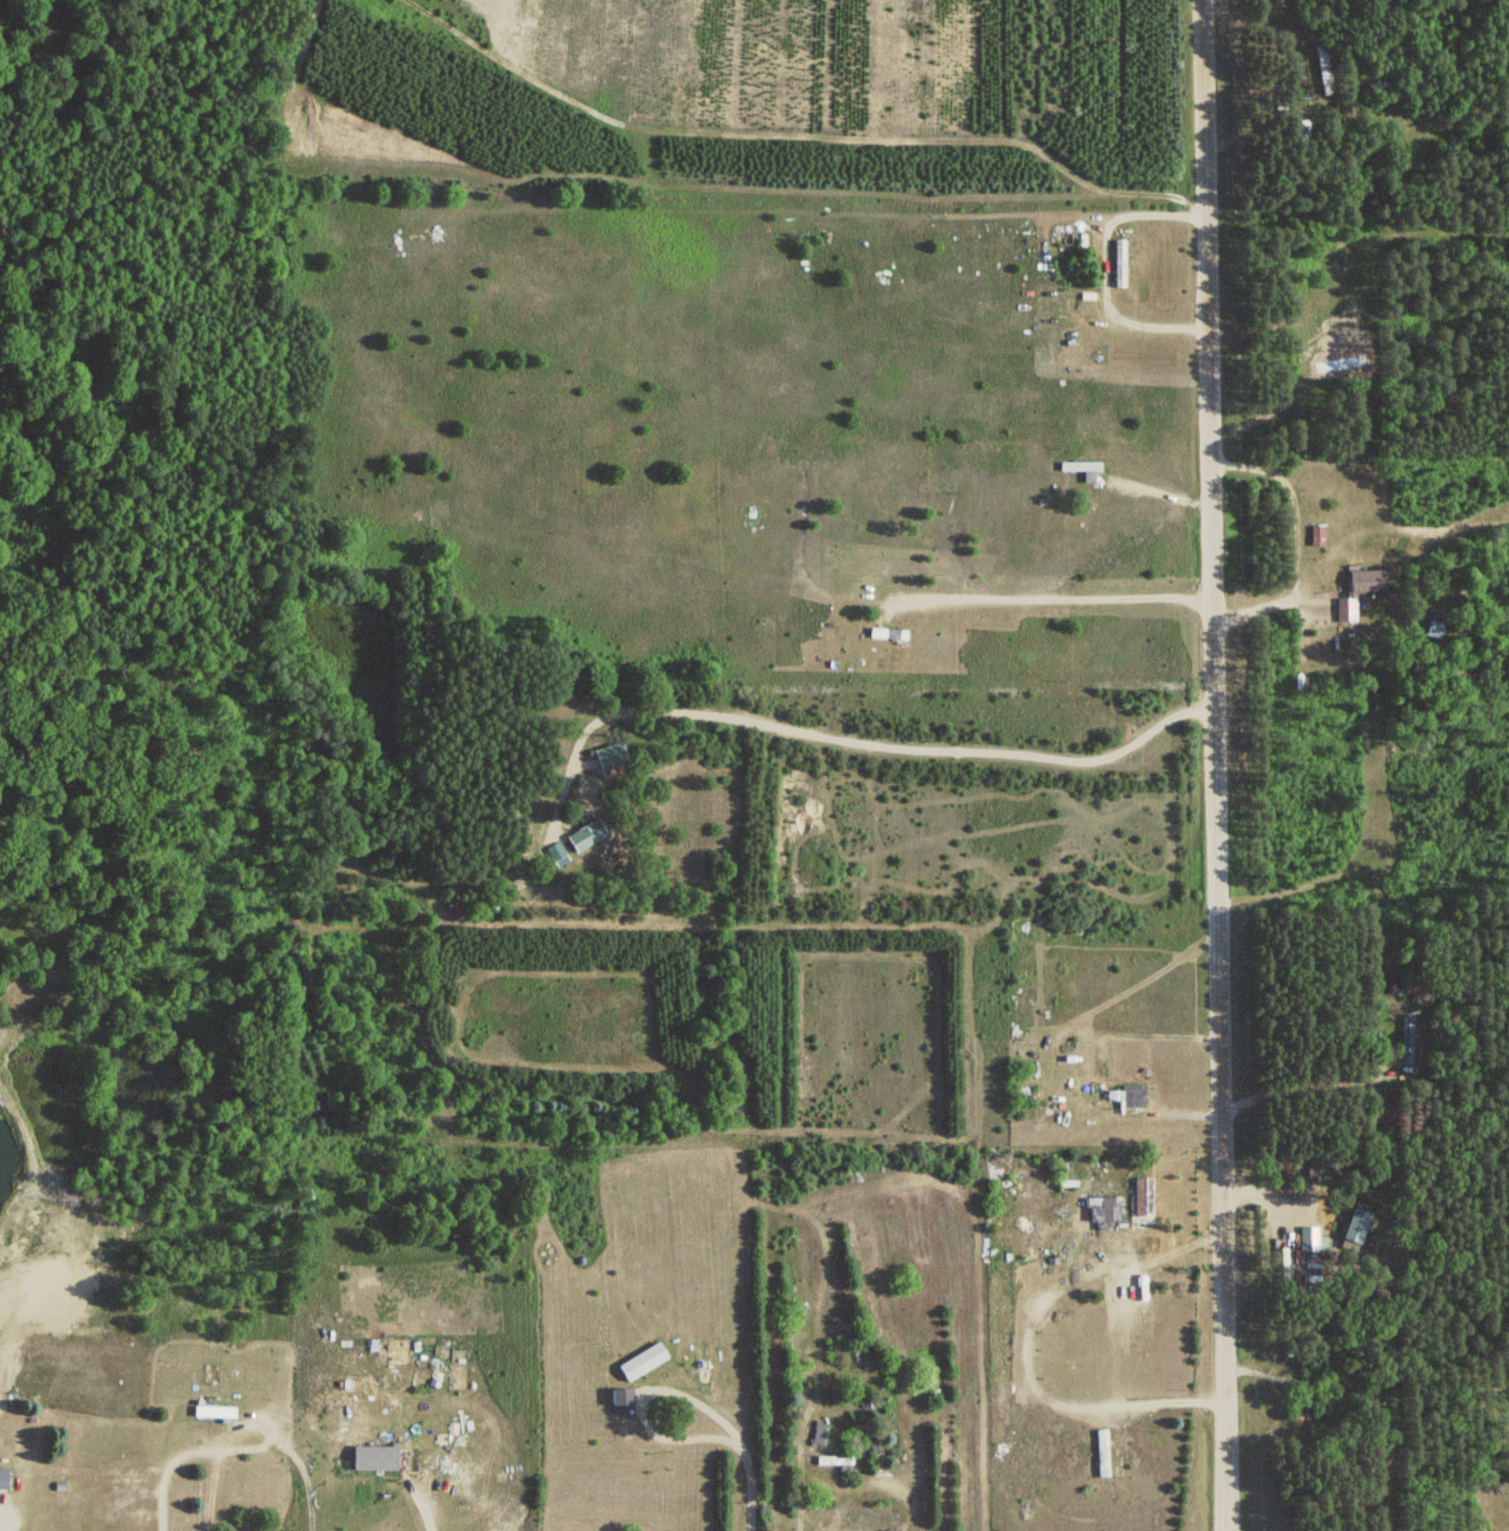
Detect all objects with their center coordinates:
building: (1298, 131)
building: (1118, 264)
building: (1081, 471)
building: (750, 512)
building: (1315, 535)
road: (1296, 544)
building: (1357, 591)
road: (1057, 596)
building: (885, 634)
road: (853, 741)
building: (608, 755)
road: (1211, 765)
building: (583, 835)
building: (1406, 1043)
building: (1420, 1046)
building: (1131, 1095)
building: (1141, 1195)
road: (1030, 1343)
building: (853, 1355)
building: (639, 1359)
building: (1309, 1394)
building: (619, 1399)
building: (211, 1412)
building: (822, 1447)
building: (1108, 1454)
building: (372, 1462)
building: (3, 1479)

